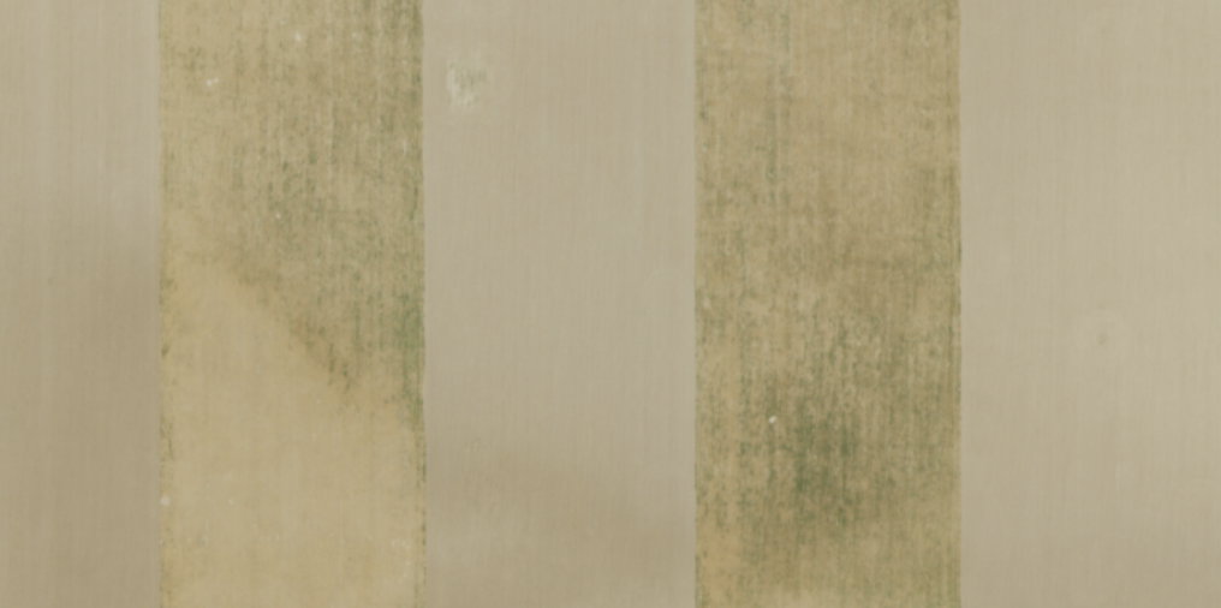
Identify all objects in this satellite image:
crop: (610, 304)

